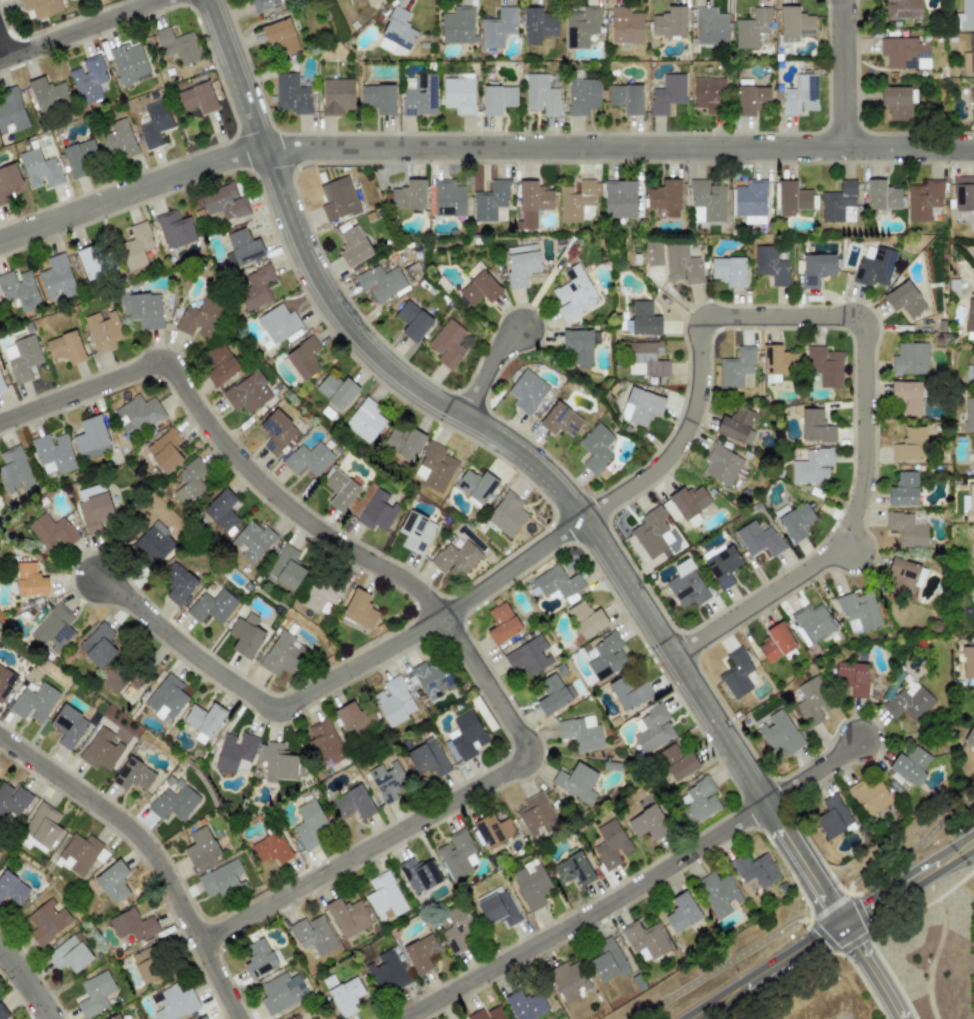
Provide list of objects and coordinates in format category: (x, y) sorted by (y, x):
building: (352, 0)
building: (263, 3)
building: (41, 7)
building: (902, 9)
building: (964, 15)
building: (669, 22)
building: (794, 24)
building: (457, 25)
building: (537, 25)
building: (581, 26)
building: (625, 26)
building: (710, 26)
building: (497, 27)
road: (79, 28)
building: (751, 28)
building: (396, 33)
building: (280, 37)
building: (177, 46)
road: (2, 49)
building: (971, 52)
building: (903, 53)
building: (128, 63)
road: (841, 73)
building: (88, 79)
building: (458, 93)
building: (542, 93)
building: (48, 94)
building: (291, 94)
building: (667, 94)
building: (707, 94)
building: (799, 94)
building: (336, 96)
building: (420, 96)
building: (582, 96)
building: (197, 98)
building: (378, 98)
building: (625, 98)
building: (497, 99)
building: (749, 99)
building: (897, 101)
building: (971, 105)
building: (11, 111)
building: (154, 123)
building: (117, 140)
road: (478, 146)
building: (81, 157)
building: (39, 169)
building: (9, 181)
building: (963, 193)
building: (408, 195)
building: (881, 195)
building: (337, 198)
building: (448, 198)
building: (665, 198)
building: (791, 198)
building: (619, 199)
building: (707, 199)
building: (923, 199)
building: (489, 200)
building: (223, 201)
building: (578, 201)
building: (750, 201)
building: (837, 201)
building: (531, 203)
building: (174, 229)
building: (353, 245)
building: (135, 246)
building: (244, 247)
building: (653, 254)
building: (89, 263)
building: (521, 264)
building: (681, 265)
building: (770, 265)
building: (873, 266)
building: (815, 269)
building: (728, 271)
building: (56, 277)
building: (380, 282)
building: (256, 287)
building: (19, 289)
building: (479, 289)
building: (574, 294)
building: (903, 299)
building: (143, 309)
building: (969, 316)
building: (197, 318)
building: (412, 321)
building: (278, 323)
building: (102, 330)
building: (447, 343)
building: (577, 347)
building: (65, 348)
building: (22, 358)
building: (303, 358)
building: (645, 358)
building: (910, 358)
building: (776, 360)
building: (220, 364)
building: (972, 364)
road: (488, 366)
building: (824, 366)
building: (736, 367)
building: (1, 386)
building: (336, 390)
building: (526, 391)
building: (247, 393)
building: (906, 396)
building: (640, 407)
building: (137, 414)
building: (968, 414)
building: (365, 420)
building: (560, 420)
building: (736, 425)
building: (815, 426)
building: (277, 432)
road: (685, 432)
building: (91, 438)
road: (228, 438)
building: (404, 442)
building: (910, 444)
building: (595, 448)
building: (164, 450)
building: (972, 451)
road: (519, 452)
building: (54, 453)
building: (308, 459)
building: (721, 464)
road: (868, 465)
building: (811, 466)
building: (434, 467)
building: (14, 470)
building: (190, 482)
building: (475, 486)
building: (340, 490)
building: (903, 490)
building: (688, 501)
building: (968, 504)
building: (93, 508)
building: (222, 510)
building: (376, 510)
building: (506, 514)
building: (793, 520)
building: (906, 529)
building: (52, 532)
building: (652, 532)
building: (415, 533)
building: (758, 539)
building: (252, 541)
building: (973, 541)
building: (154, 544)
building: (455, 559)
building: (721, 565)
building: (285, 568)
building: (904, 575)
building: (29, 579)
building: (557, 582)
building: (178, 584)
building: (686, 585)
building: (318, 595)
building: (972, 598)
building: (212, 606)
building: (359, 609)
building: (858, 611)
building: (585, 618)
building: (501, 623)
building: (812, 623)
building: (53, 630)
building: (245, 636)
building: (775, 642)
building: (98, 645)
building: (280, 654)
building: (529, 656)
building: (606, 656)
building: (967, 662)
road: (339, 674)
building: (736, 674)
building: (852, 677)
building: (431, 678)
building: (121, 679)
building: (5, 682)
building: (629, 691)
building: (553, 695)
building: (166, 697)
building: (393, 701)
building: (810, 701)
building: (910, 701)
building: (34, 703)
building: (354, 718)
building: (203, 721)
building: (68, 726)
building: (651, 729)
building: (779, 732)
building: (581, 733)
building: (465, 735)
building: (970, 736)
building: (323, 742)
building: (100, 749)
building: (235, 753)
building: (428, 758)
building: (275, 761)
building: (676, 761)
building: (910, 766)
building: (133, 775)
building: (575, 781)
building: (386, 783)
building: (870, 795)
building: (12, 799)
building: (699, 801)
building: (353, 802)
building: (173, 803)
road: (443, 804)
building: (535, 814)
building: (832, 816)
building: (648, 823)
building: (308, 824)
building: (42, 826)
building: (492, 830)
building: (610, 844)
building: (201, 848)
building: (270, 848)
road: (153, 850)
building: (80, 854)
building: (457, 854)
building: (572, 869)
building: (754, 869)
building: (417, 875)
building: (221, 880)
building: (112, 882)
road: (908, 882)
road: (634, 883)
building: (530, 884)
building: (12, 887)
building: (717, 893)
building: (384, 896)
building: (497, 907)
park: (802, 910)
building: (682, 912)
building: (347, 917)
road: (812, 917)
building: (46, 921)
building: (132, 925)
building: (457, 929)
building: (313, 934)
building: (647, 942)
building: (69, 953)
building: (421, 953)
building: (258, 959)
building: (607, 960)
building: (148, 964)
road: (871, 970)
road: (763, 971)
building: (385, 972)
road: (32, 978)
building: (569, 981)
building: (280, 992)
building: (94, 993)
building: (345, 994)
building: (173, 1003)
building: (525, 1004)
building: (2, 1013)
building: (486, 1014)
building: (115, 1017)
building: (294, 1017)
building: (202, 1018)

